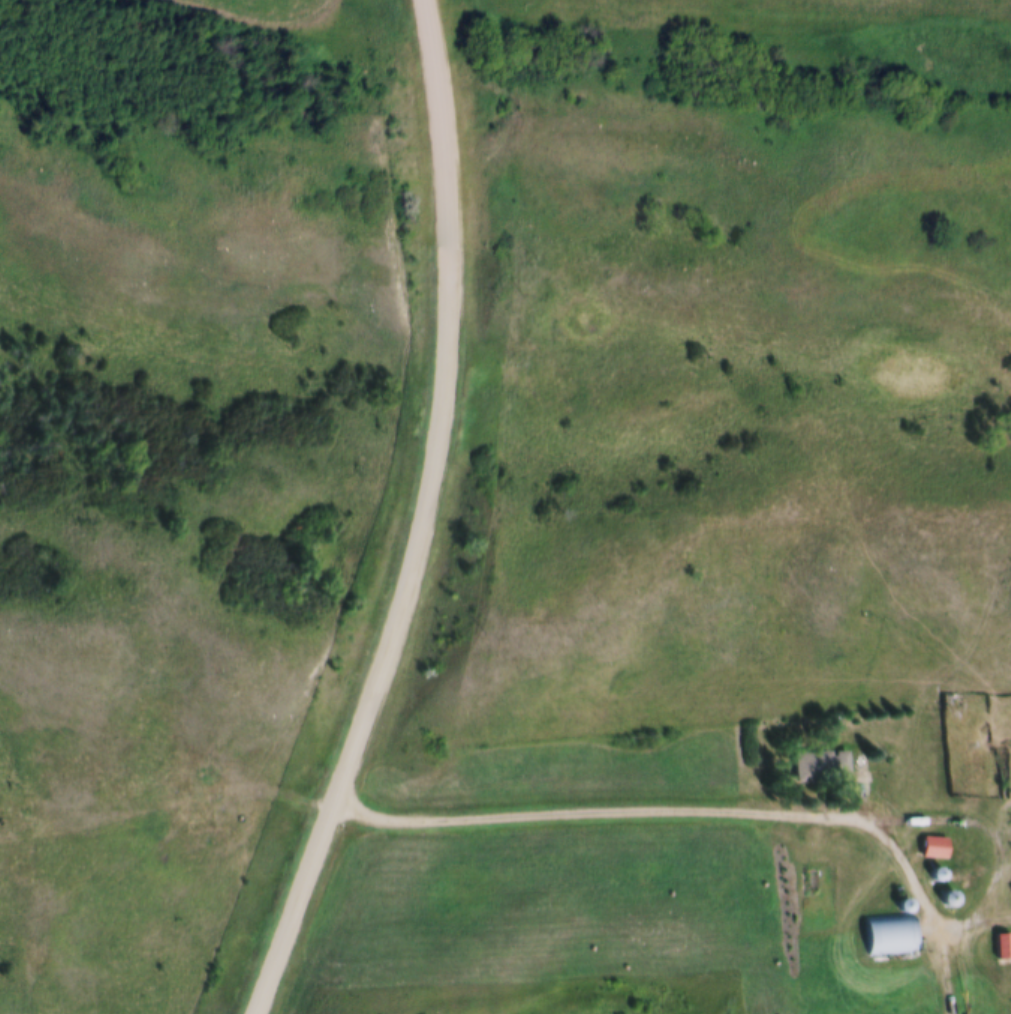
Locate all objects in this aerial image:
road: (424, 519)
building: (951, 702)
building: (805, 758)
building: (859, 765)
road: (806, 811)
building: (926, 838)
building: (933, 846)
building: (927, 867)
building: (938, 891)
building: (895, 897)
building: (948, 897)
building: (882, 927)
building: (994, 938)
building: (1002, 945)
road: (947, 973)

